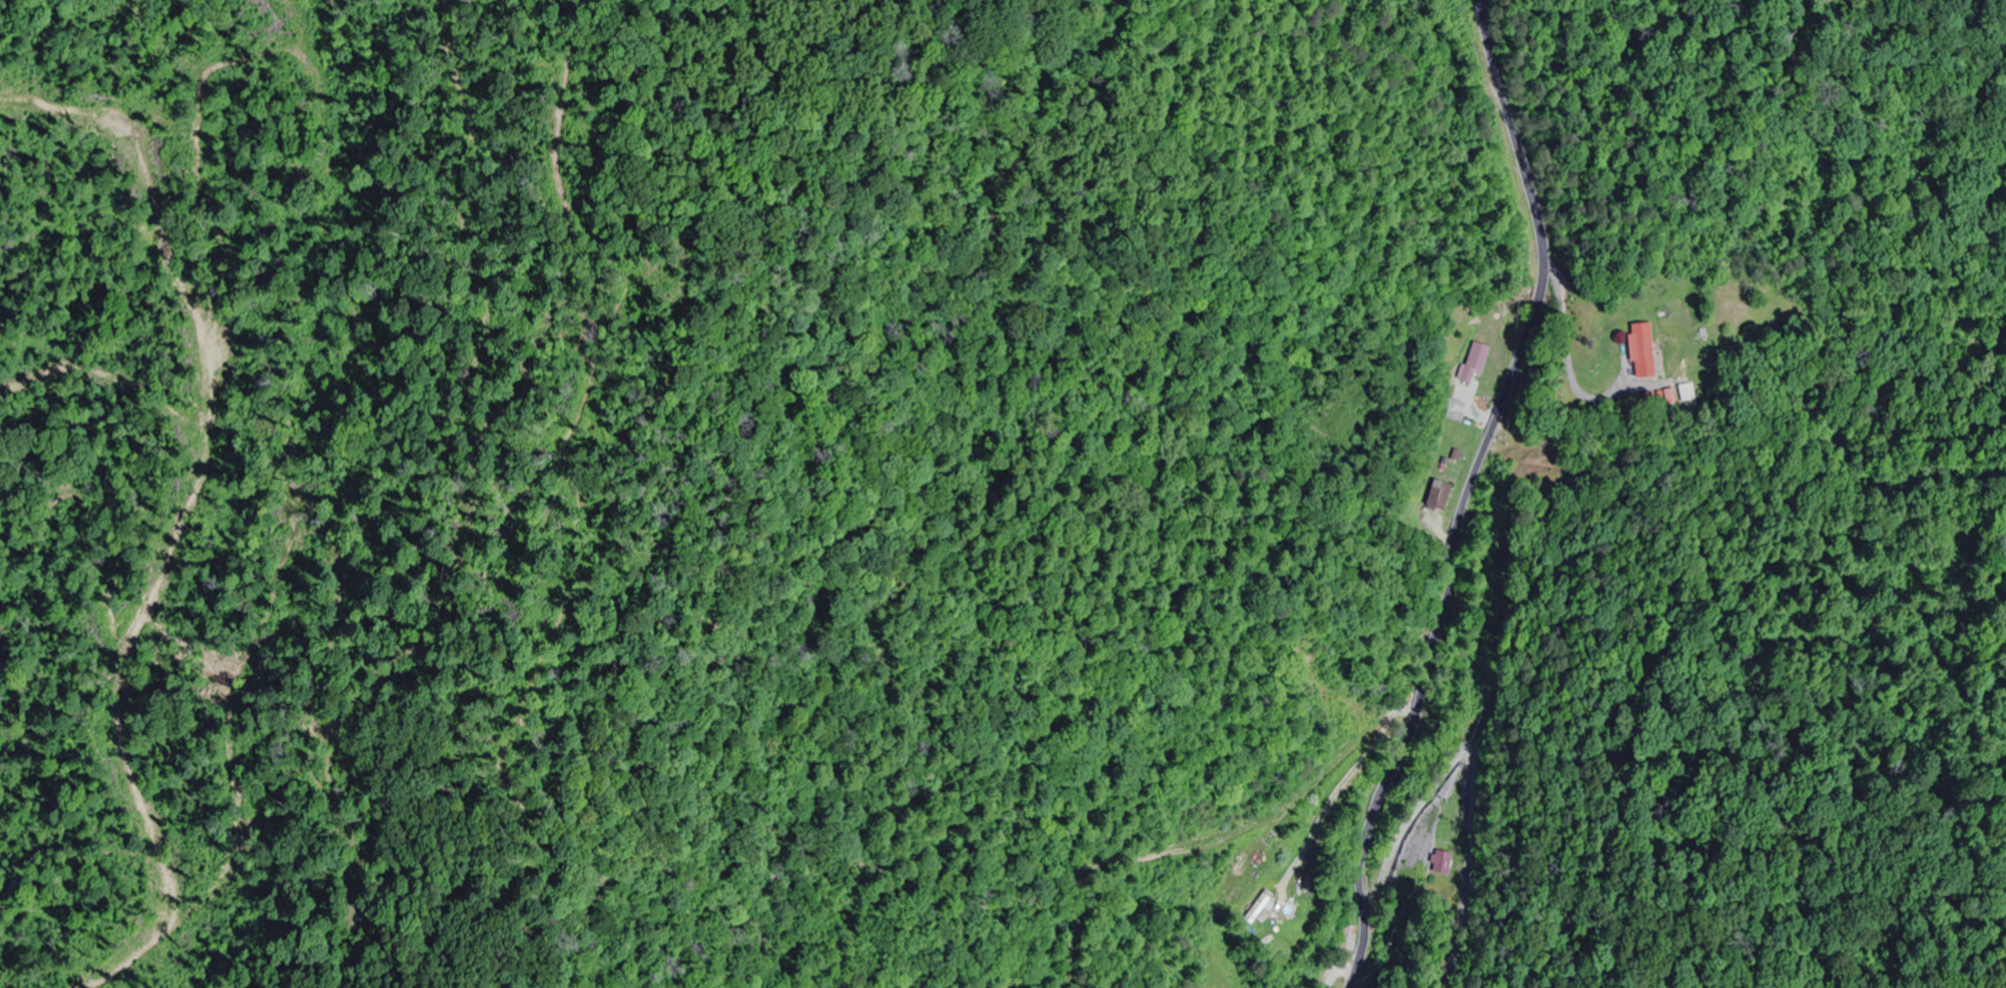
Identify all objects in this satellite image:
building: (1640, 350)
building: (1472, 363)
road: (1467, 493)
building: (1436, 495)
building: (1442, 863)
building: (1251, 908)

